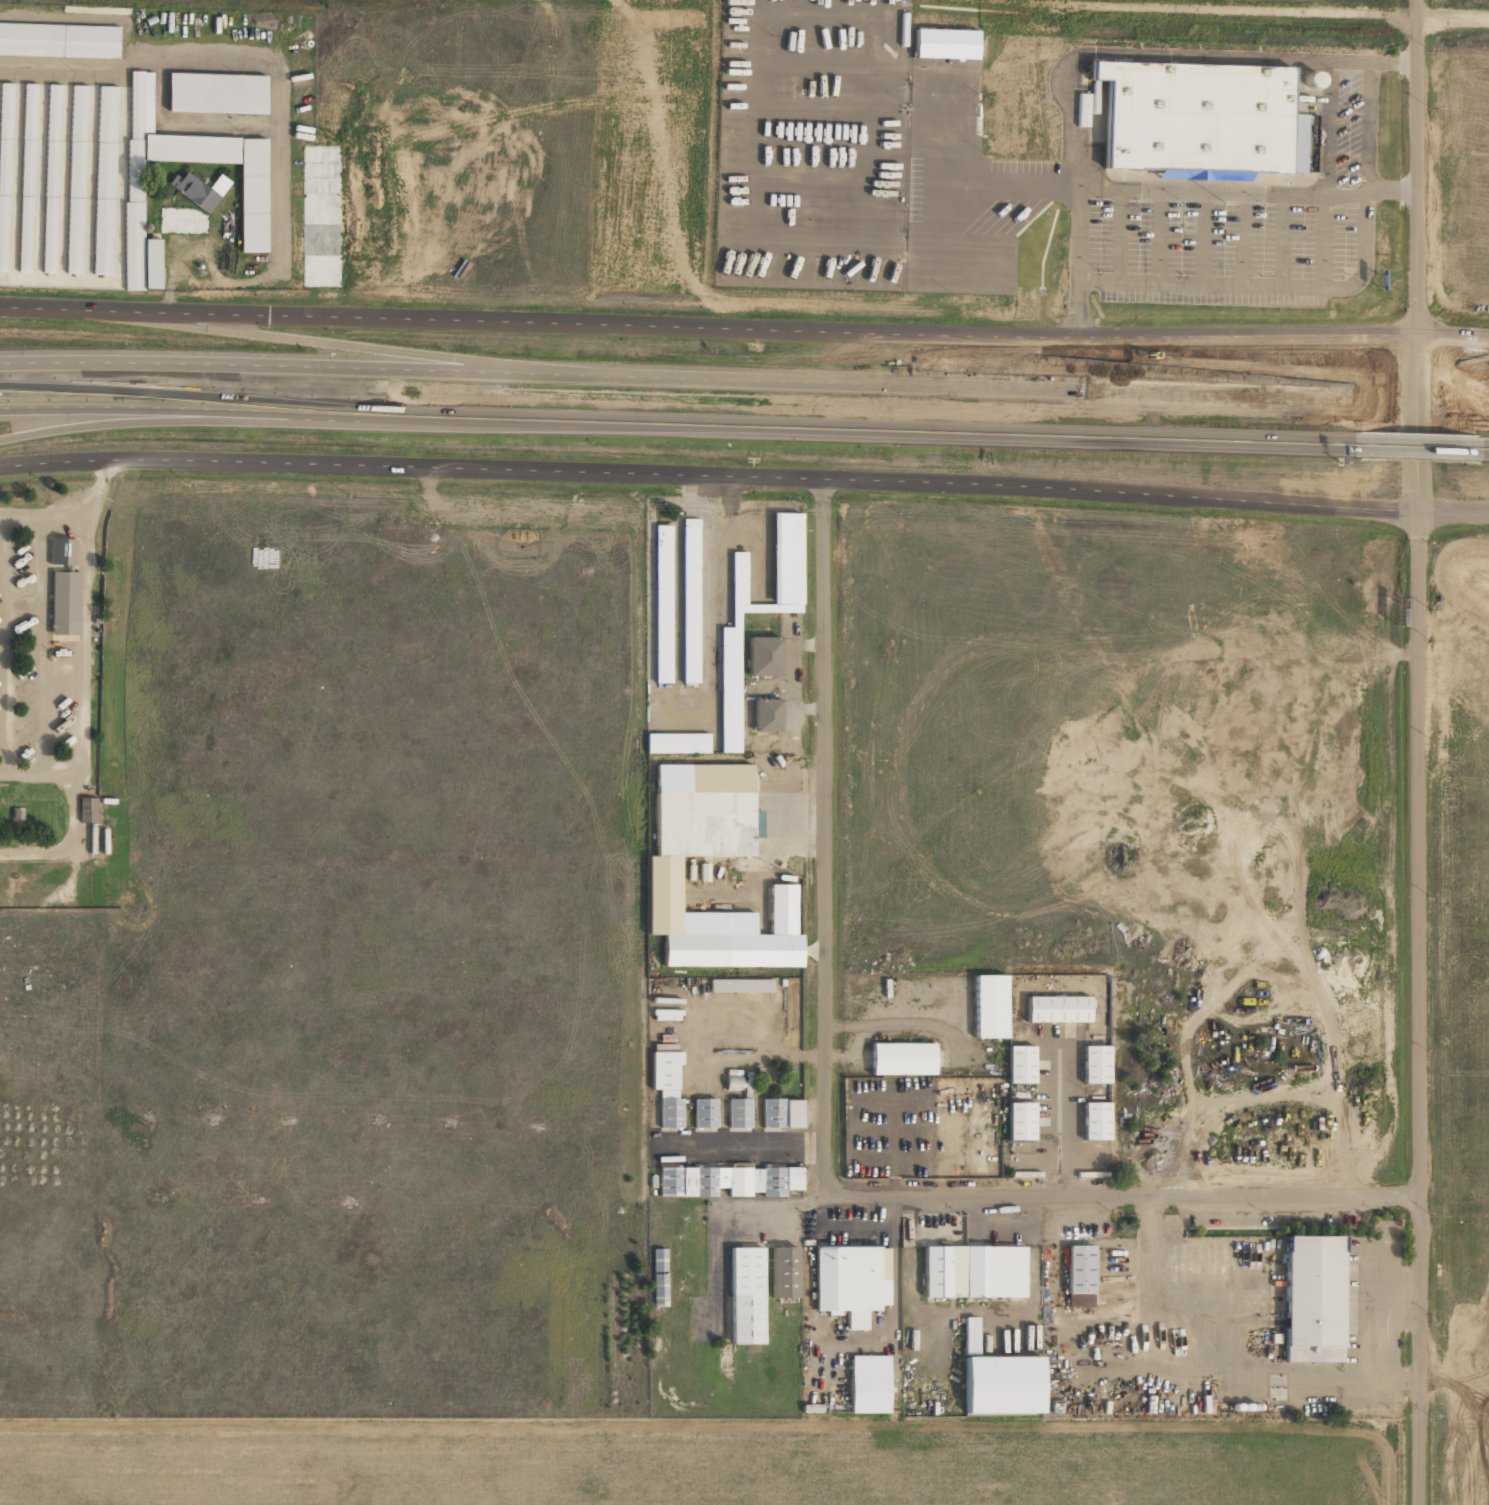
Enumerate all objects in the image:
building: (59, 40)
building: (216, 93)
building: (1195, 117)
building: (4, 170)
building: (26, 178)
building: (50, 178)
building: (76, 179)
building: (104, 180)
building: (197, 192)
building: (252, 207)
road: (1414, 253)
building: (151, 264)
road: (744, 329)
road: (315, 341)
road: (379, 368)
road: (1055, 389)
road: (1416, 401)
road: (1485, 403)
road: (377, 415)
road: (156, 421)
road: (1053, 432)
road: (1416, 446)
road: (1485, 449)
road: (744, 478)
building: (62, 551)
building: (689, 601)
building: (64, 603)
building: (662, 604)
building: (759, 608)
building: (764, 656)
building: (767, 715)
building: (677, 743)
building: (87, 810)
building: (705, 811)
building: (743, 941)
road: (1418, 965)
building: (741, 986)
building: (990, 1006)
building: (667, 1015)
building: (902, 1059)
building: (1021, 1064)
building: (1095, 1064)
building: (667, 1088)
building: (705, 1113)
building: (739, 1113)
building: (781, 1113)
building: (1021, 1121)
building: (1096, 1121)
road: (827, 1126)
building: (728, 1181)
building: (784, 1272)
building: (974, 1272)
building: (1080, 1276)
building: (659, 1277)
building: (851, 1282)
building: (746, 1296)
building: (1313, 1299)
building: (997, 1379)
building: (869, 1384)
road: (1421, 1463)

